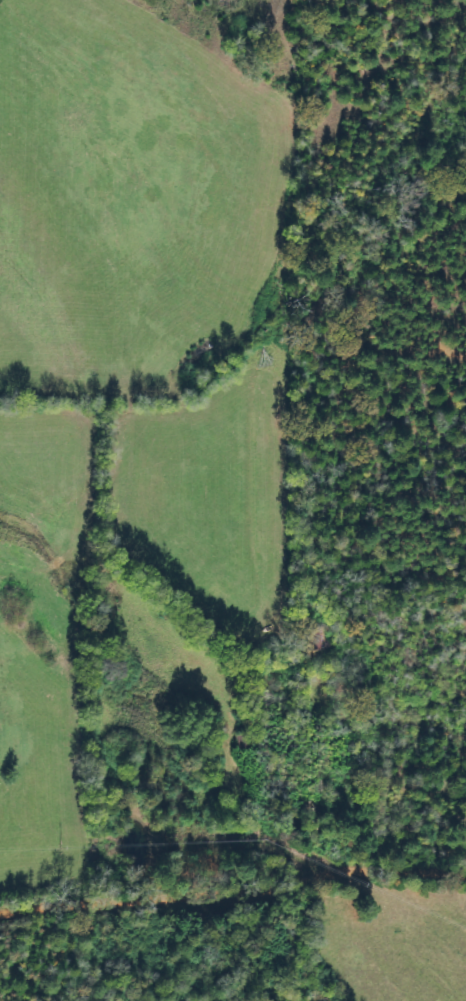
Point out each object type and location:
road: (233, 894)

